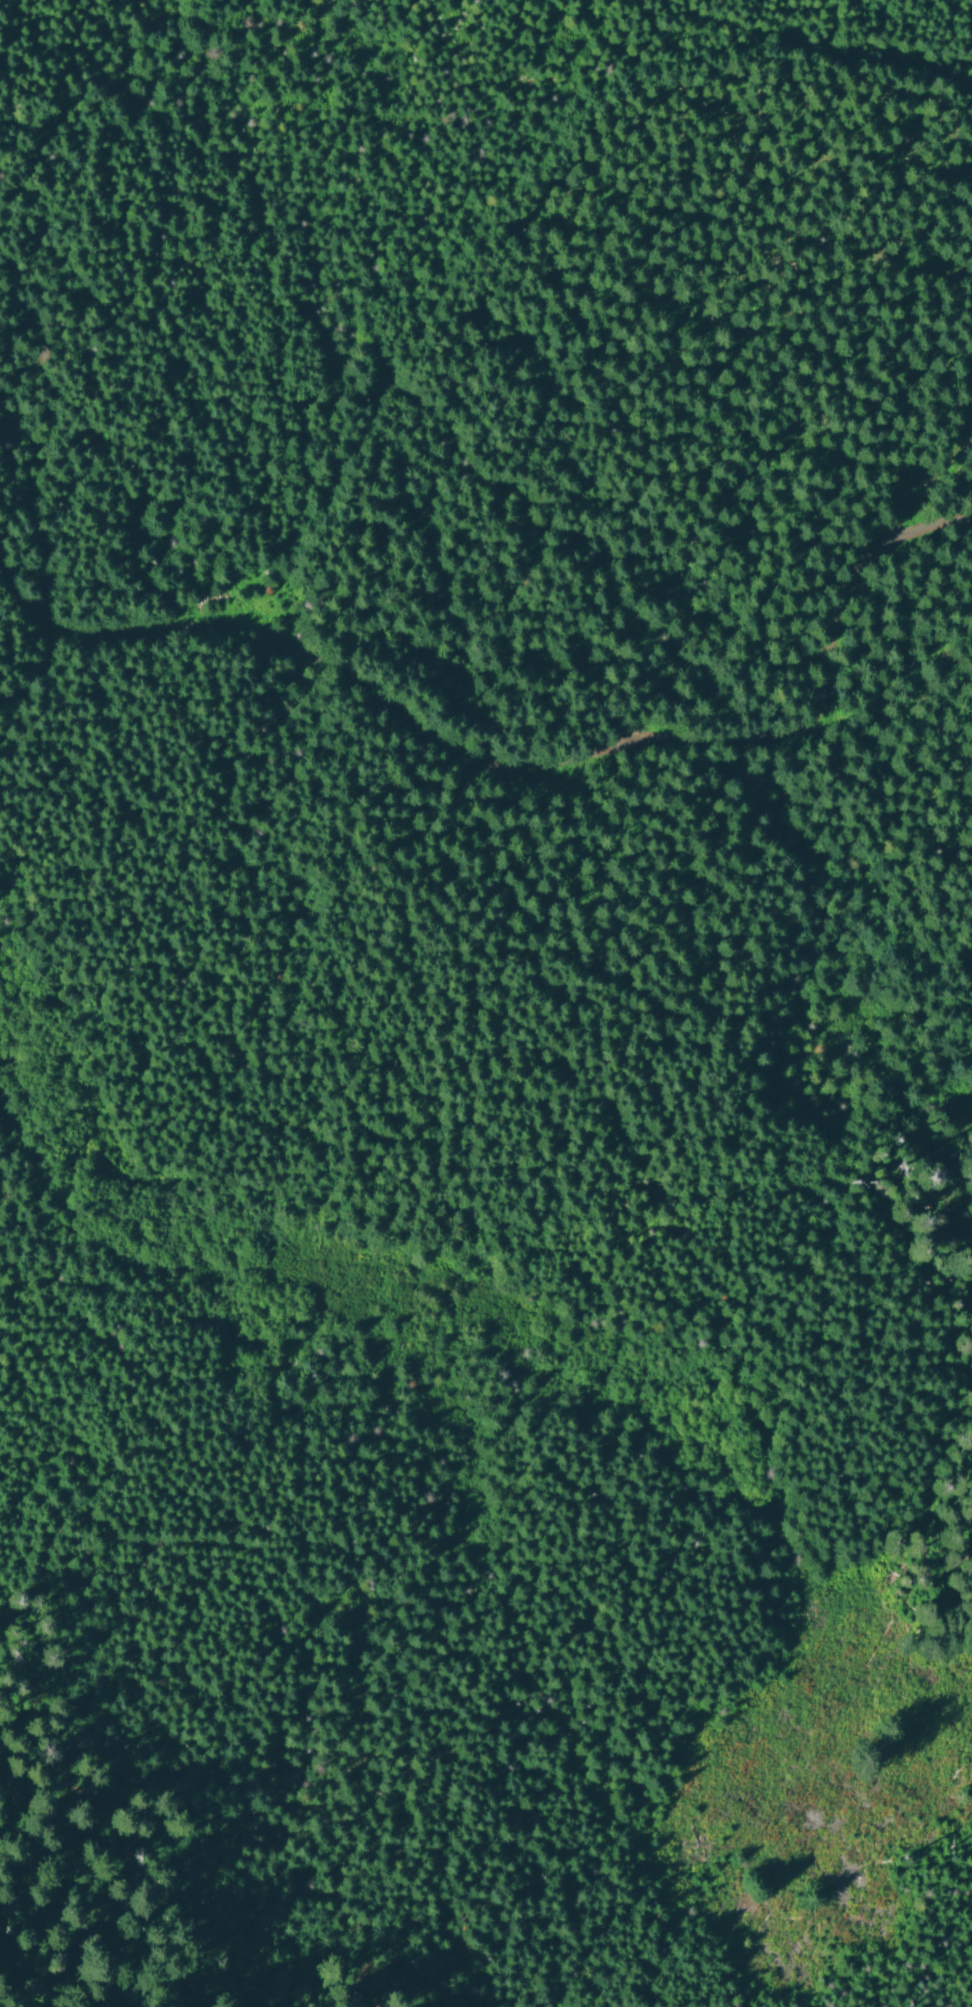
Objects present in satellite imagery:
road: (926, 482)
road: (521, 768)

